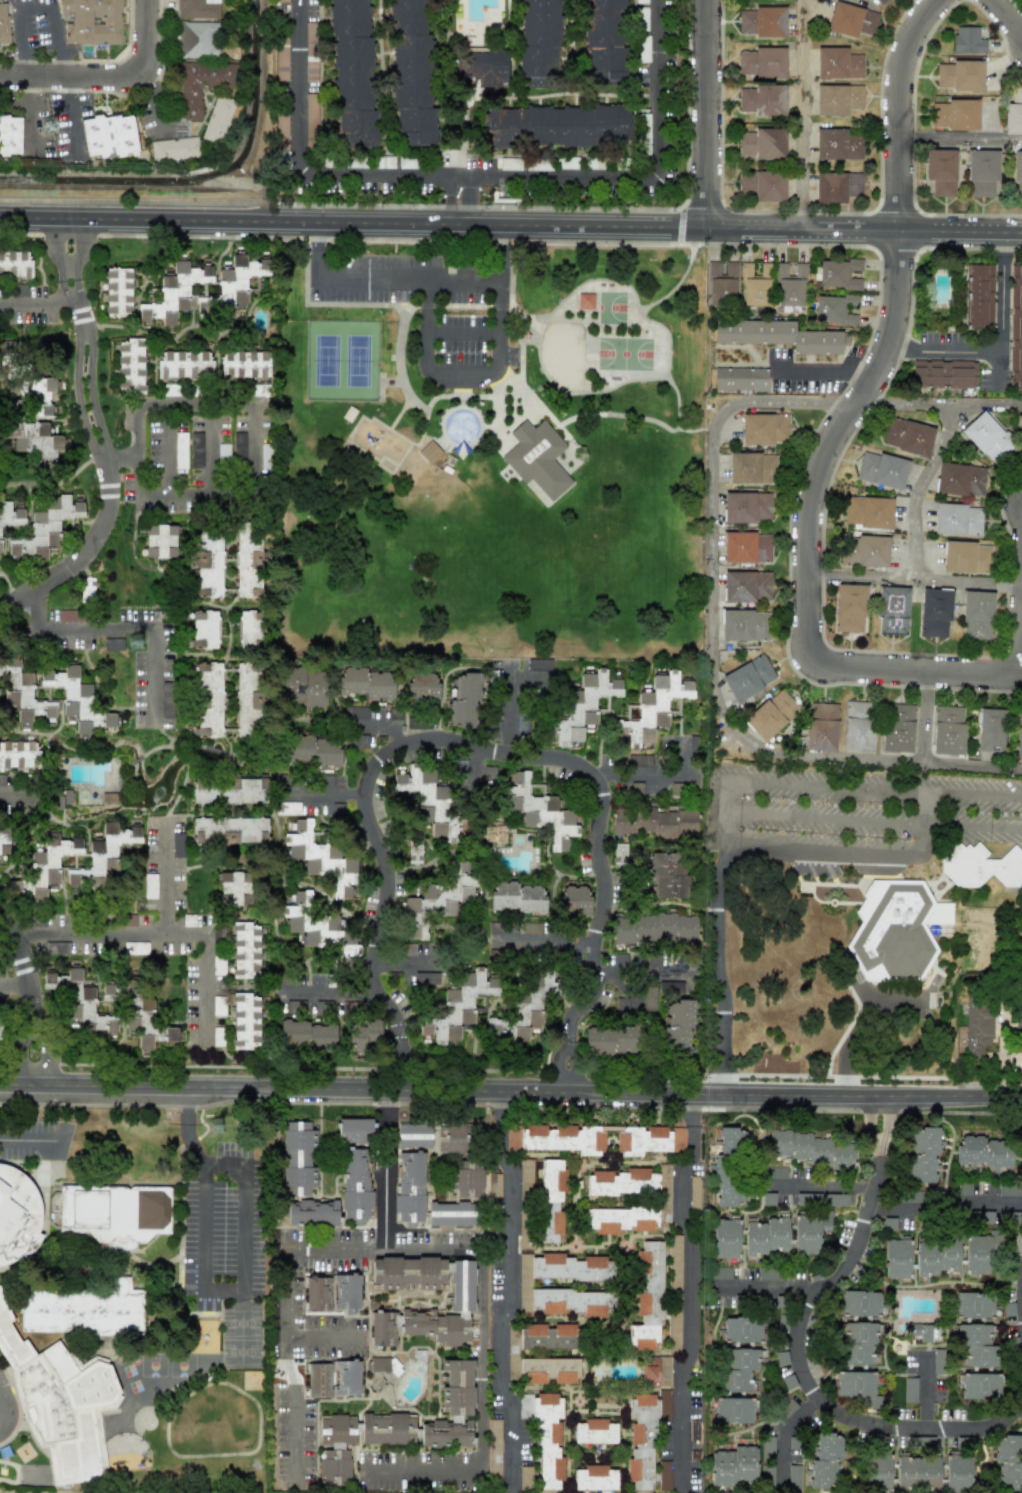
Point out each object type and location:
building: (282, 0)
building: (880, 1)
road: (36, 3)
building: (197, 9)
road: (1008, 14)
building: (851, 20)
building: (4, 21)
building: (90, 21)
building: (762, 22)
building: (539, 38)
building: (197, 40)
building: (967, 40)
building: (604, 42)
building: (643, 49)
building: (310, 51)
building: (281, 58)
building: (762, 62)
building: (838, 63)
building: (480, 68)
building: (352, 74)
building: (411, 74)
building: (959, 75)
road: (112, 76)
building: (201, 84)
building: (838, 99)
building: (762, 100)
road: (153, 108)
road: (31, 113)
road: (707, 113)
building: (1013, 113)
road: (800, 114)
building: (955, 114)
road: (70, 115)
building: (218, 119)
building: (310, 121)
power tower: (56, 126)
building: (556, 126)
building: (10, 134)
building: (644, 134)
building: (109, 136)
road: (961, 138)
building: (282, 142)
building: (761, 143)
building: (837, 144)
building: (174, 149)
building: (940, 171)
building: (982, 172)
building: (1017, 173)
road: (478, 176)
road: (448, 185)
building: (762, 185)
road: (469, 187)
building: (837, 187)
road: (448, 209)
road: (470, 211)
road: (510, 225)
road: (68, 248)
building: (14, 263)
building: (838, 274)
parking lot: (410, 280)
road: (412, 281)
building: (721, 282)
building: (755, 285)
building: (790, 285)
building: (231, 286)
building: (118, 292)
building: (174, 293)
building: (978, 296)
building: (585, 301)
road: (39, 303)
building: (834, 309)
park: (613, 311)
building: (1016, 329)
road: (463, 331)
building: (779, 335)
road: (539, 346)
road: (1003, 348)
park: (624, 356)
park: (341, 360)
road: (401, 362)
building: (130, 365)
building: (184, 365)
building: (244, 365)
road: (999, 365)
road: (824, 369)
building: (943, 373)
road: (463, 374)
building: (740, 379)
building: (41, 393)
road: (191, 401)
road: (792, 403)
road: (989, 407)
road: (620, 414)
road: (678, 416)
water park: (460, 425)
building: (765, 428)
building: (1021, 429)
road: (833, 431)
road: (214, 436)
building: (907, 436)
building: (987, 437)
building: (36, 441)
building: (238, 445)
building: (180, 450)
building: (196, 450)
building: (223, 451)
building: (429, 452)
park: (494, 452)
building: (265, 456)
building: (537, 458)
building: (752, 468)
building: (882, 470)
road: (107, 471)
building: (960, 479)
road: (918, 489)
road: (166, 490)
building: (746, 507)
building: (868, 511)
building: (10, 515)
building: (957, 519)
building: (45, 527)
building: (160, 541)
building: (747, 547)
building: (0, 550)
building: (864, 551)
building: (966, 557)
building: (248, 561)
building: (207, 564)
road: (860, 577)
building: (746, 586)
building: (87, 588)
building: (849, 608)
building: (892, 610)
building: (935, 612)
building: (977, 615)
building: (744, 625)
road: (122, 626)
building: (250, 629)
building: (203, 630)
road: (1019, 639)
power tower: (140, 643)
building: (113, 644)
building: (539, 664)
building: (748, 678)
building: (365, 683)
building: (303, 687)
building: (421, 687)
building: (21, 692)
building: (248, 698)
building: (75, 699)
building: (208, 699)
building: (464, 700)
building: (584, 705)
building: (652, 708)
road: (509, 710)
building: (359, 712)
road: (721, 714)
building: (771, 714)
road: (924, 717)
building: (522, 724)
road: (378, 725)
building: (858, 726)
road: (277, 727)
building: (821, 727)
building: (897, 728)
building: (494, 730)
building: (947, 730)
building: (990, 730)
building: (1019, 735)
road: (166, 738)
road: (187, 743)
road: (162, 746)
road: (478, 747)
road: (216, 750)
building: (314, 751)
building: (18, 755)
road: (137, 759)
road: (183, 759)
road: (653, 770)
building: (488, 772)
road: (805, 788)
road: (180, 790)
building: (229, 790)
building: (429, 801)
building: (287, 808)
road: (923, 809)
building: (539, 810)
road: (827, 820)
building: (654, 822)
road: (972, 826)
building: (229, 831)
building: (4, 841)
building: (177, 845)
road: (842, 851)
building: (414, 852)
building: (103, 854)
building: (619, 854)
building: (321, 858)
building: (47, 864)
building: (981, 866)
building: (666, 875)
building: (235, 888)
building: (517, 897)
building: (437, 900)
building: (574, 900)
building: (319, 928)
building: (531, 928)
building: (654, 928)
building: (892, 930)
road: (146, 937)
road: (547, 944)
building: (57, 948)
building: (135, 948)
building: (408, 948)
building: (245, 950)
building: (654, 961)
road: (25, 970)
road: (643, 972)
road: (201, 974)
building: (426, 978)
road: (14, 981)
building: (671, 987)
building: (110, 992)
road: (334, 993)
building: (79, 1001)
building: (638, 1001)
building: (457, 1006)
road: (723, 1006)
building: (523, 1010)
building: (1019, 1013)
building: (143, 1017)
building: (246, 1021)
building: (678, 1027)
building: (977, 1029)
building: (307, 1034)
building: (363, 1035)
building: (217, 1037)
road: (859, 1038)
building: (612, 1040)
road: (1004, 1040)
road: (35, 1053)
road: (401, 1062)
road: (569, 1065)
road: (844, 1086)
road: (511, 1089)
road: (880, 1113)
power tower: (223, 1128)
building: (355, 1130)
building: (413, 1135)
building: (451, 1137)
building: (601, 1139)
road: (29, 1141)
building: (731, 1141)
building: (808, 1149)
building: (984, 1152)
building: (922, 1154)
road: (383, 1169)
building: (774, 1173)
building: (299, 1177)
building: (466, 1178)
building: (526, 1178)
building: (726, 1180)
building: (493, 1185)
road: (817, 1185)
building: (409, 1187)
building: (1010, 1191)
building: (694, 1192)
building: (911, 1197)
building: (808, 1198)
building: (551, 1199)
building: (836, 1200)
building: (665, 1201)
road: (995, 1202)
road: (245, 1206)
road: (891, 1211)
building: (115, 1213)
building: (452, 1214)
building: (17, 1215)
building: (981, 1217)
building: (809, 1231)
building: (766, 1236)
building: (725, 1238)
road: (202, 1241)
road: (424, 1252)
building: (979, 1252)
building: (936, 1256)
building: (896, 1258)
building: (674, 1263)
building: (720, 1273)
building: (768, 1274)
building: (525, 1285)
road: (504, 1287)
road: (766, 1288)
road: (683, 1292)
building: (332, 1293)
building: (461, 1299)
building: (648, 1299)
building: (859, 1303)
building: (973, 1305)
building: (83, 1309)
building: (674, 1327)
building: (741, 1329)
building: (921, 1331)
building: (549, 1337)
road: (317, 1341)
building: (857, 1344)
building: (977, 1345)
building: (938, 1361)
road: (800, 1363)
building: (379, 1364)
building: (739, 1369)
building: (549, 1370)
building: (656, 1371)
building: (333, 1379)
building: (979, 1386)
building: (858, 1387)
building: (910, 1390)
road: (925, 1391)
building: (457, 1392)
building: (61, 1403)
building: (733, 1410)
road: (1018, 1412)
road: (6, 1419)
building: (594, 1431)
building: (545, 1435)
building: (645, 1437)
road: (782, 1437)
building: (694, 1440)
building: (767, 1446)
building: (335, 1448)
building: (494, 1449)
building: (824, 1461)
building: (1009, 1462)
building: (733, 1466)
building: (877, 1473)
building: (917, 1473)
building: (957, 1473)
building: (664, 1475)
building: (767, 1475)
building: (794, 1476)
building: (525, 1478)
building: (595, 1478)

